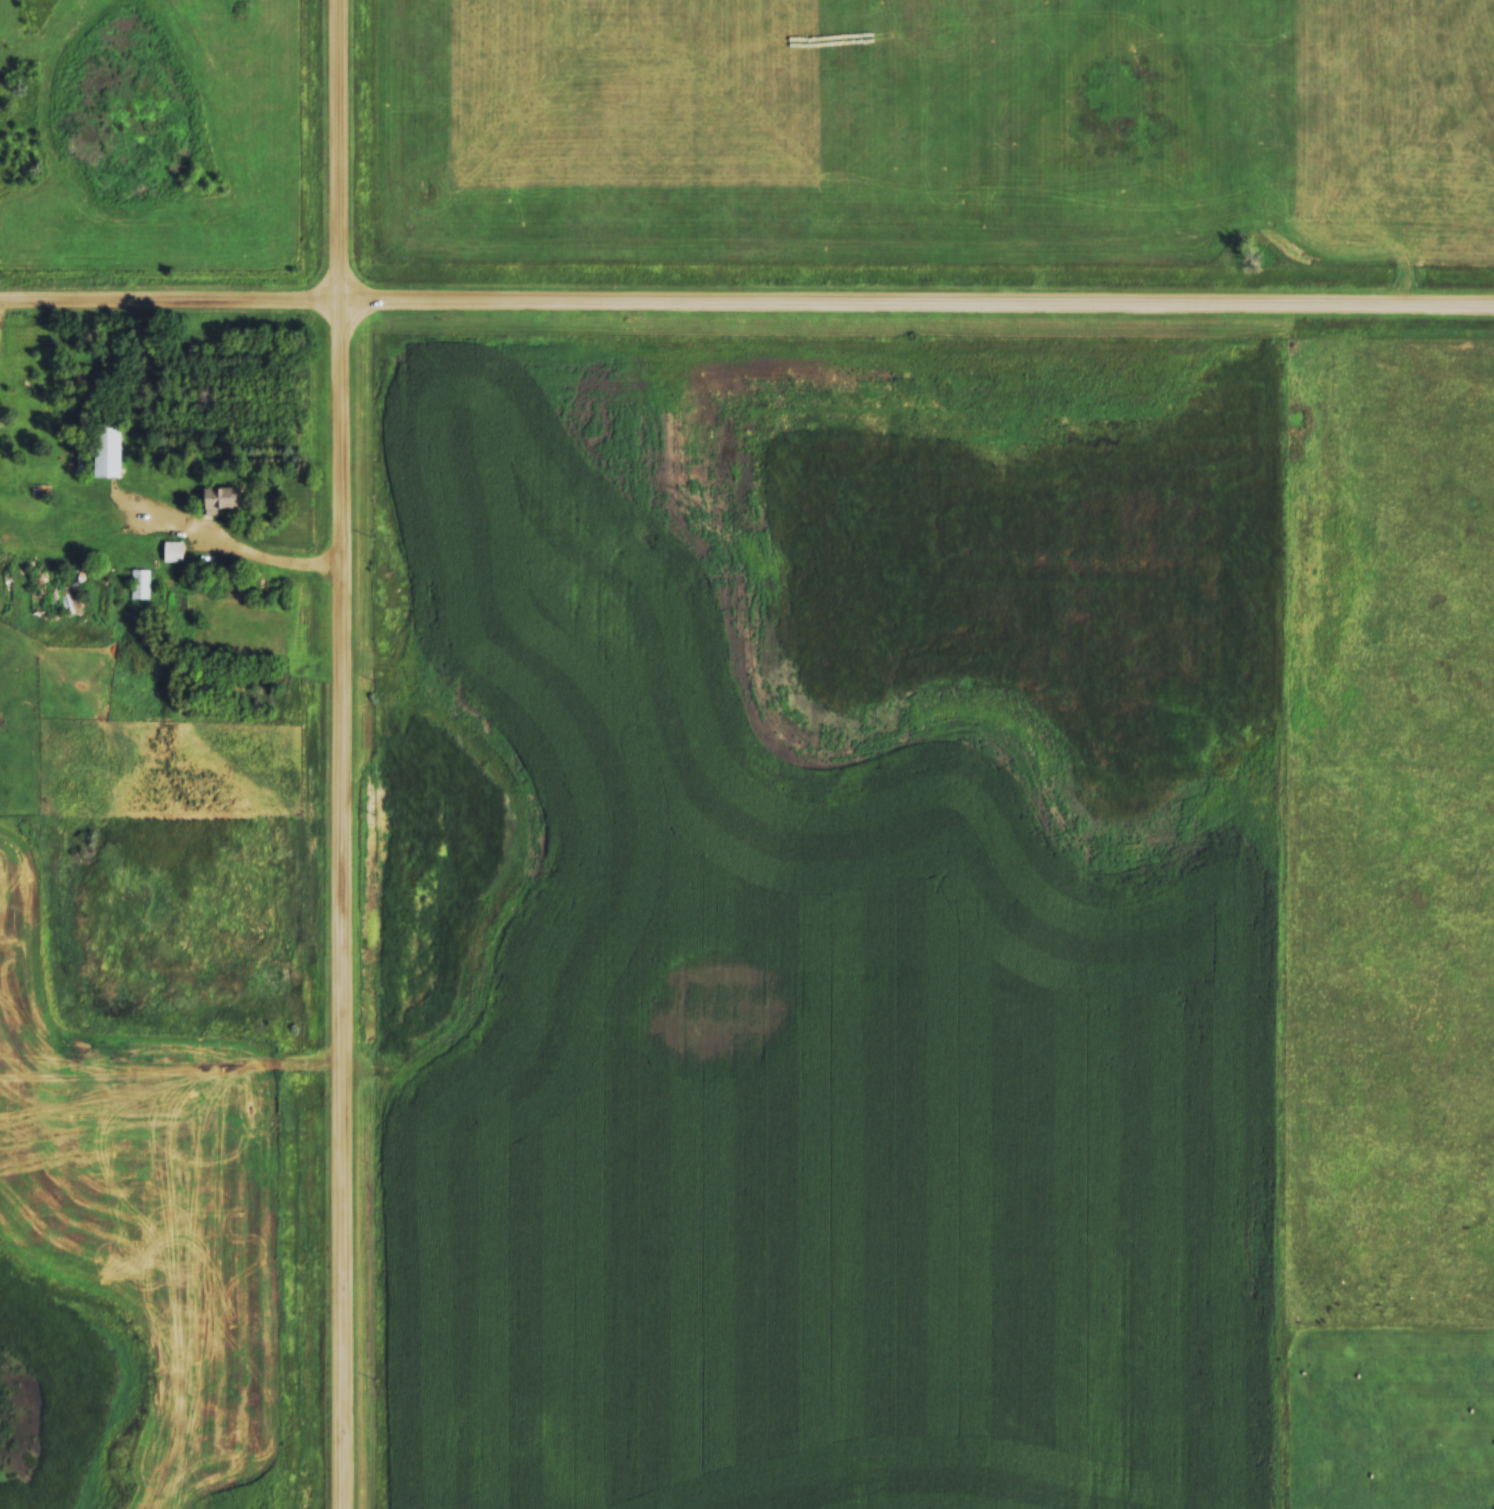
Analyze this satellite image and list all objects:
road: (746, 305)
building: (109, 459)
building: (220, 500)
road: (231, 547)
building: (173, 551)
building: (140, 583)
building: (42, 586)
road: (339, 754)

